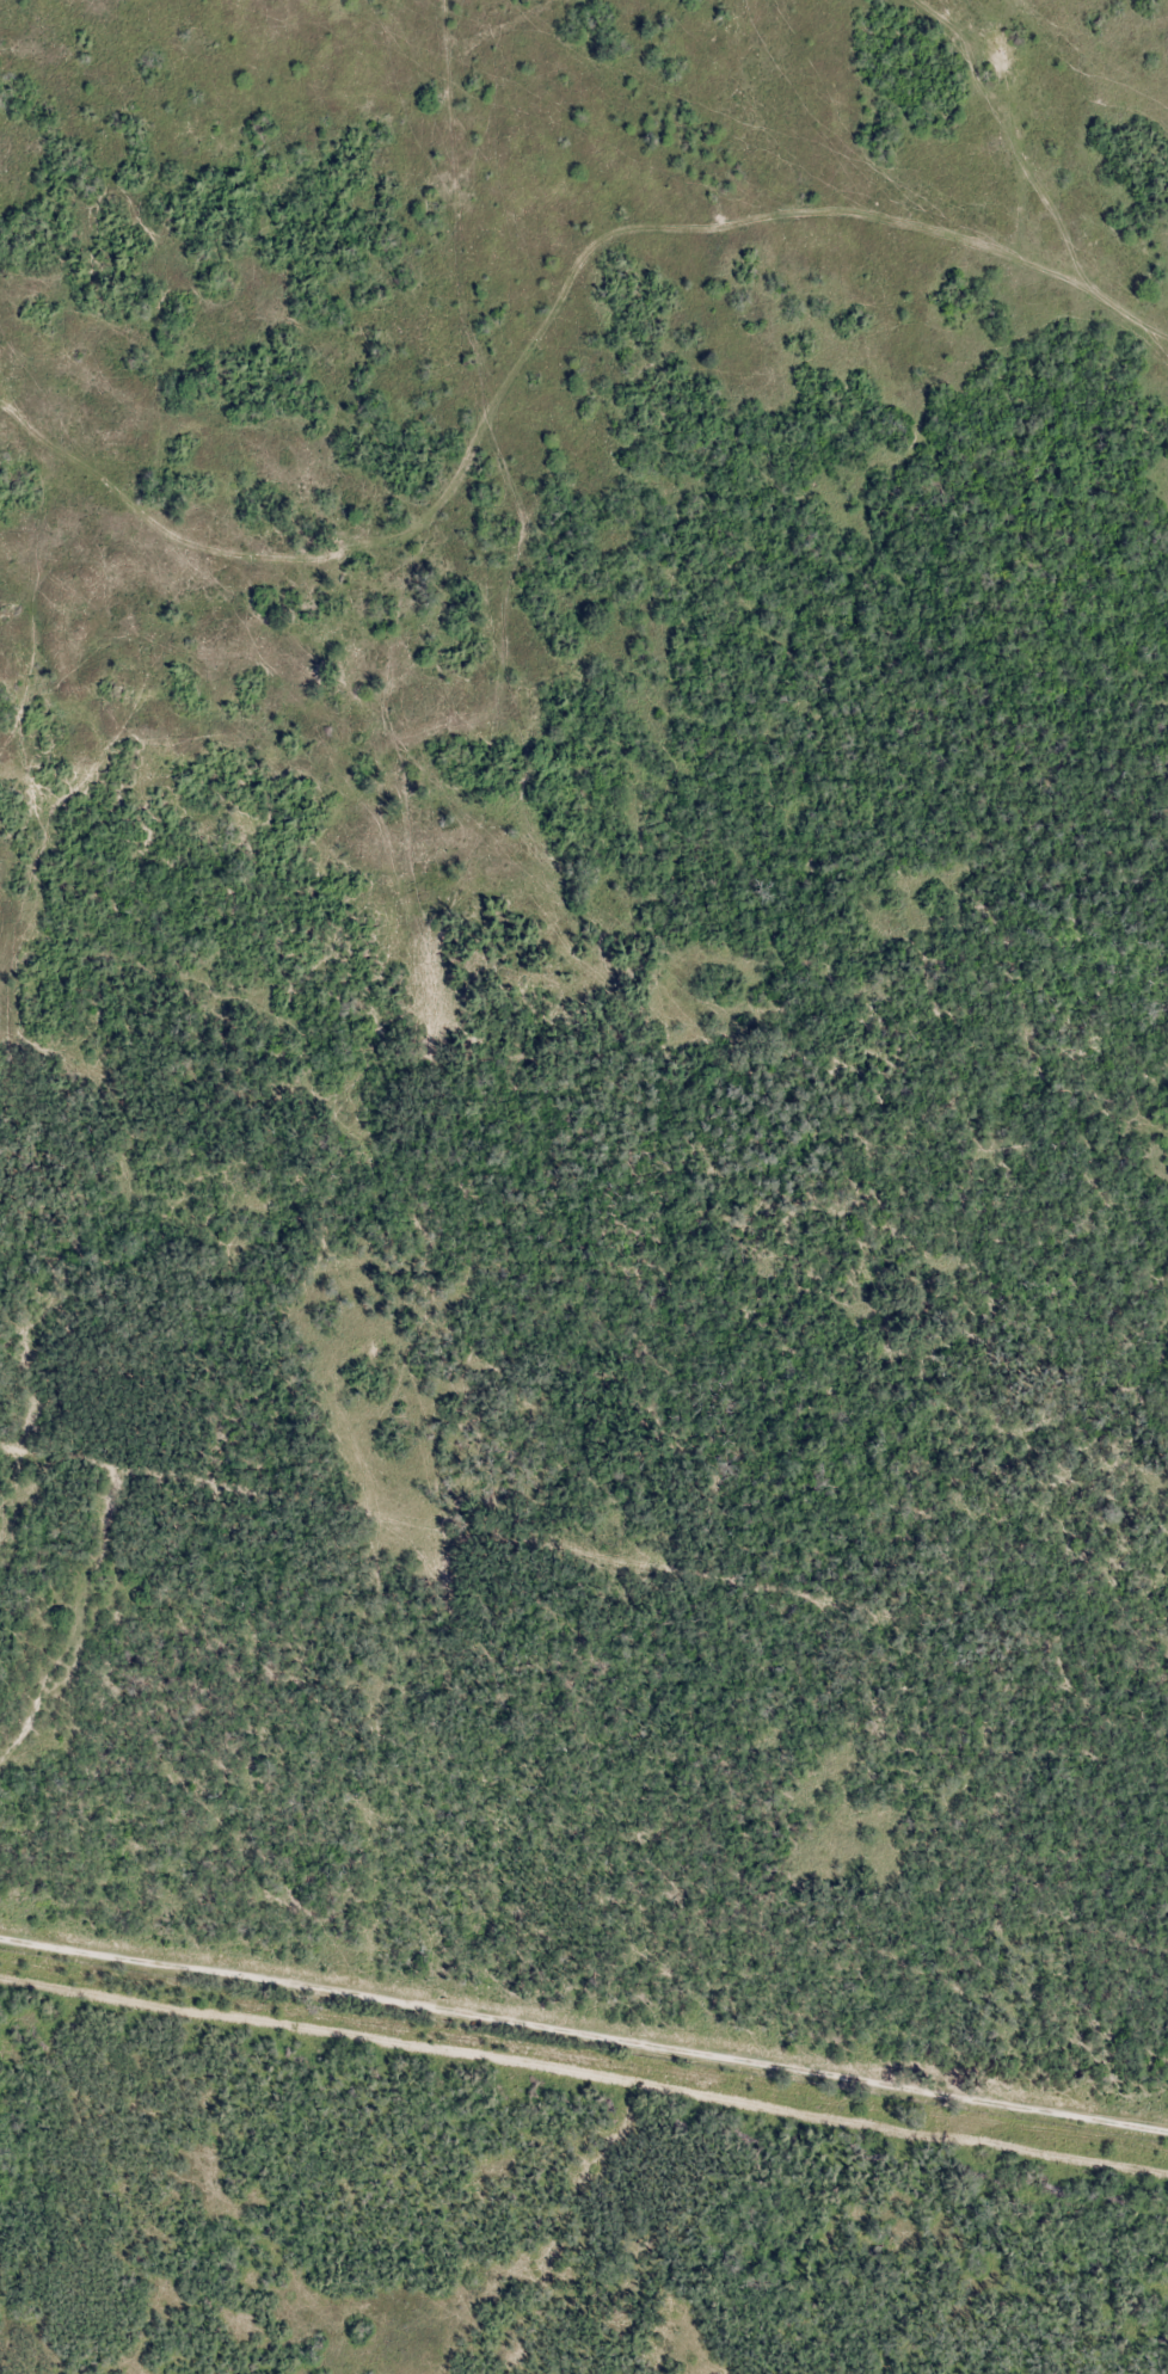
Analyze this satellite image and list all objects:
road: (584, 2032)

